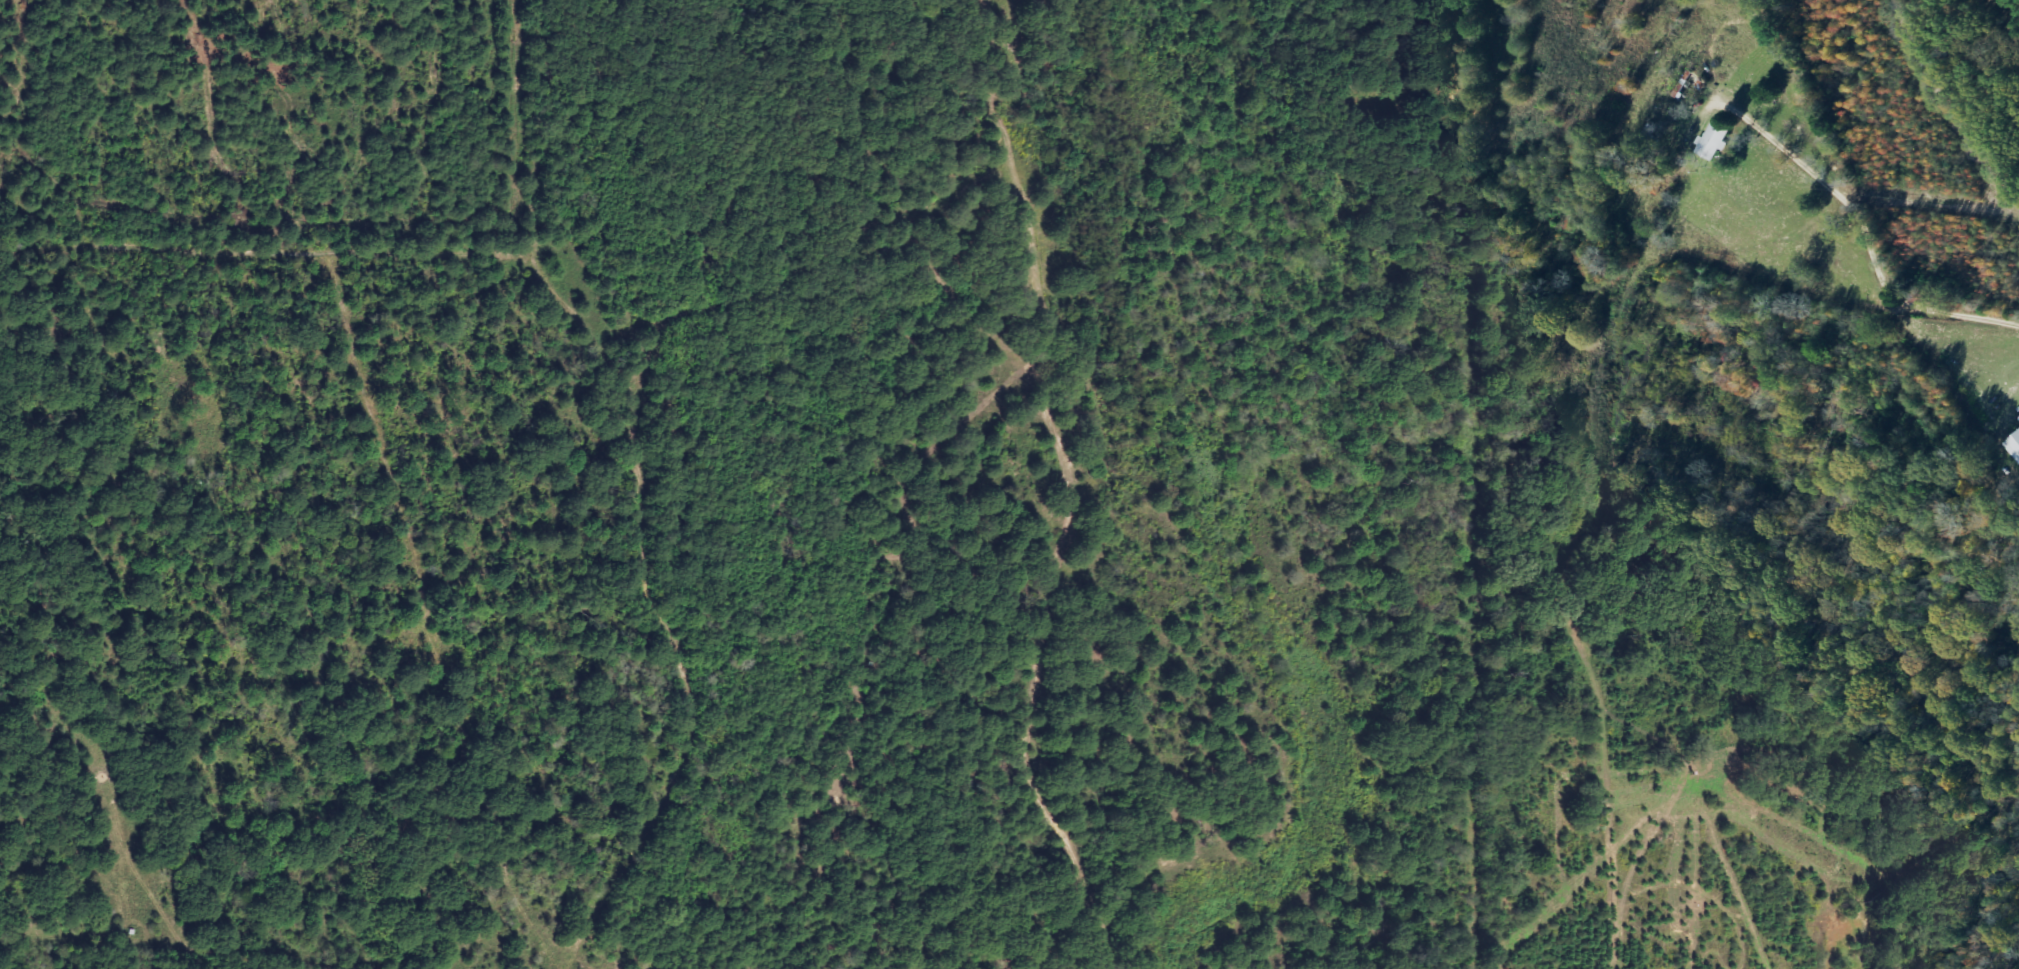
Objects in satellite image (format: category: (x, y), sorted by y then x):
building: (1713, 138)
building: (2013, 445)
road: (1977, 795)

